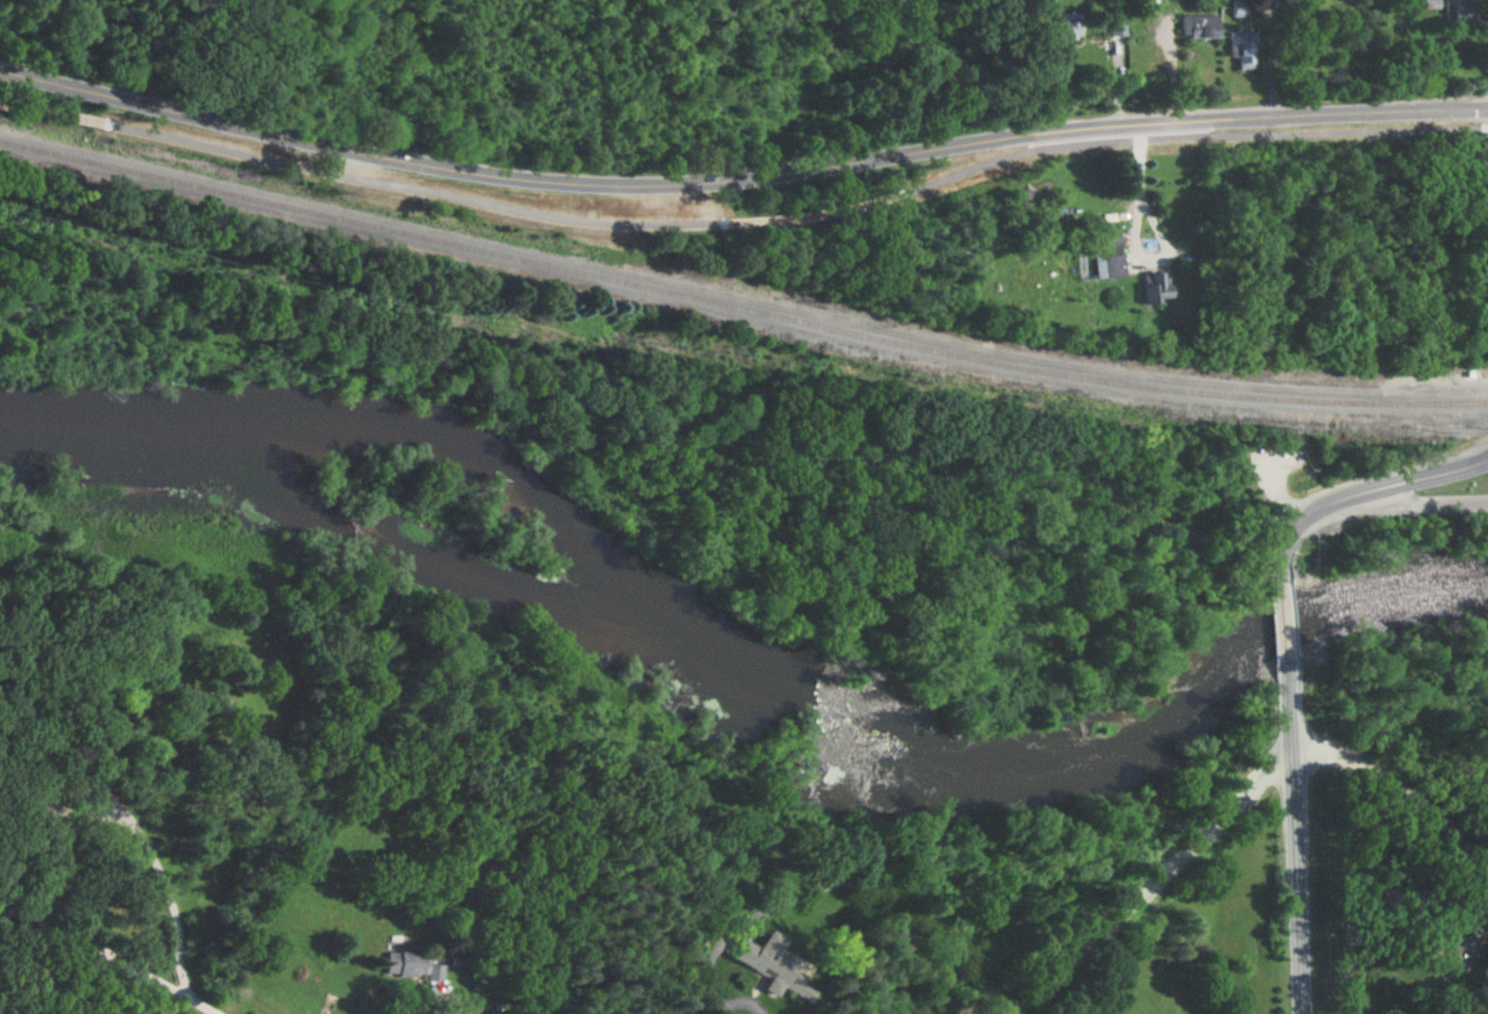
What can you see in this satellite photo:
building: (1431, 4)
building: (1238, 8)
building: (1068, 24)
building: (1199, 26)
building: (1116, 29)
park: (209, 42)
building: (1242, 49)
road: (1168, 69)
road: (56, 111)
road: (1190, 137)
road: (740, 179)
road: (414, 188)
road: (811, 215)
road: (1136, 233)
building: (1107, 255)
building: (1154, 288)
road: (466, 303)
railway: (739, 307)
road: (293, 346)
road: (445, 352)
road: (937, 410)
parking lot: (1276, 461)
road: (1278, 493)
road: (1358, 493)
road: (1428, 499)
road: (1035, 570)
road: (1284, 631)
river: (742, 681)
road: (1400, 791)
road: (145, 845)
road: (1294, 845)
road: (1422, 864)
road: (1149, 883)
road: (110, 954)
building: (1443, 955)
building: (770, 961)
building: (414, 966)
road: (441, 990)

